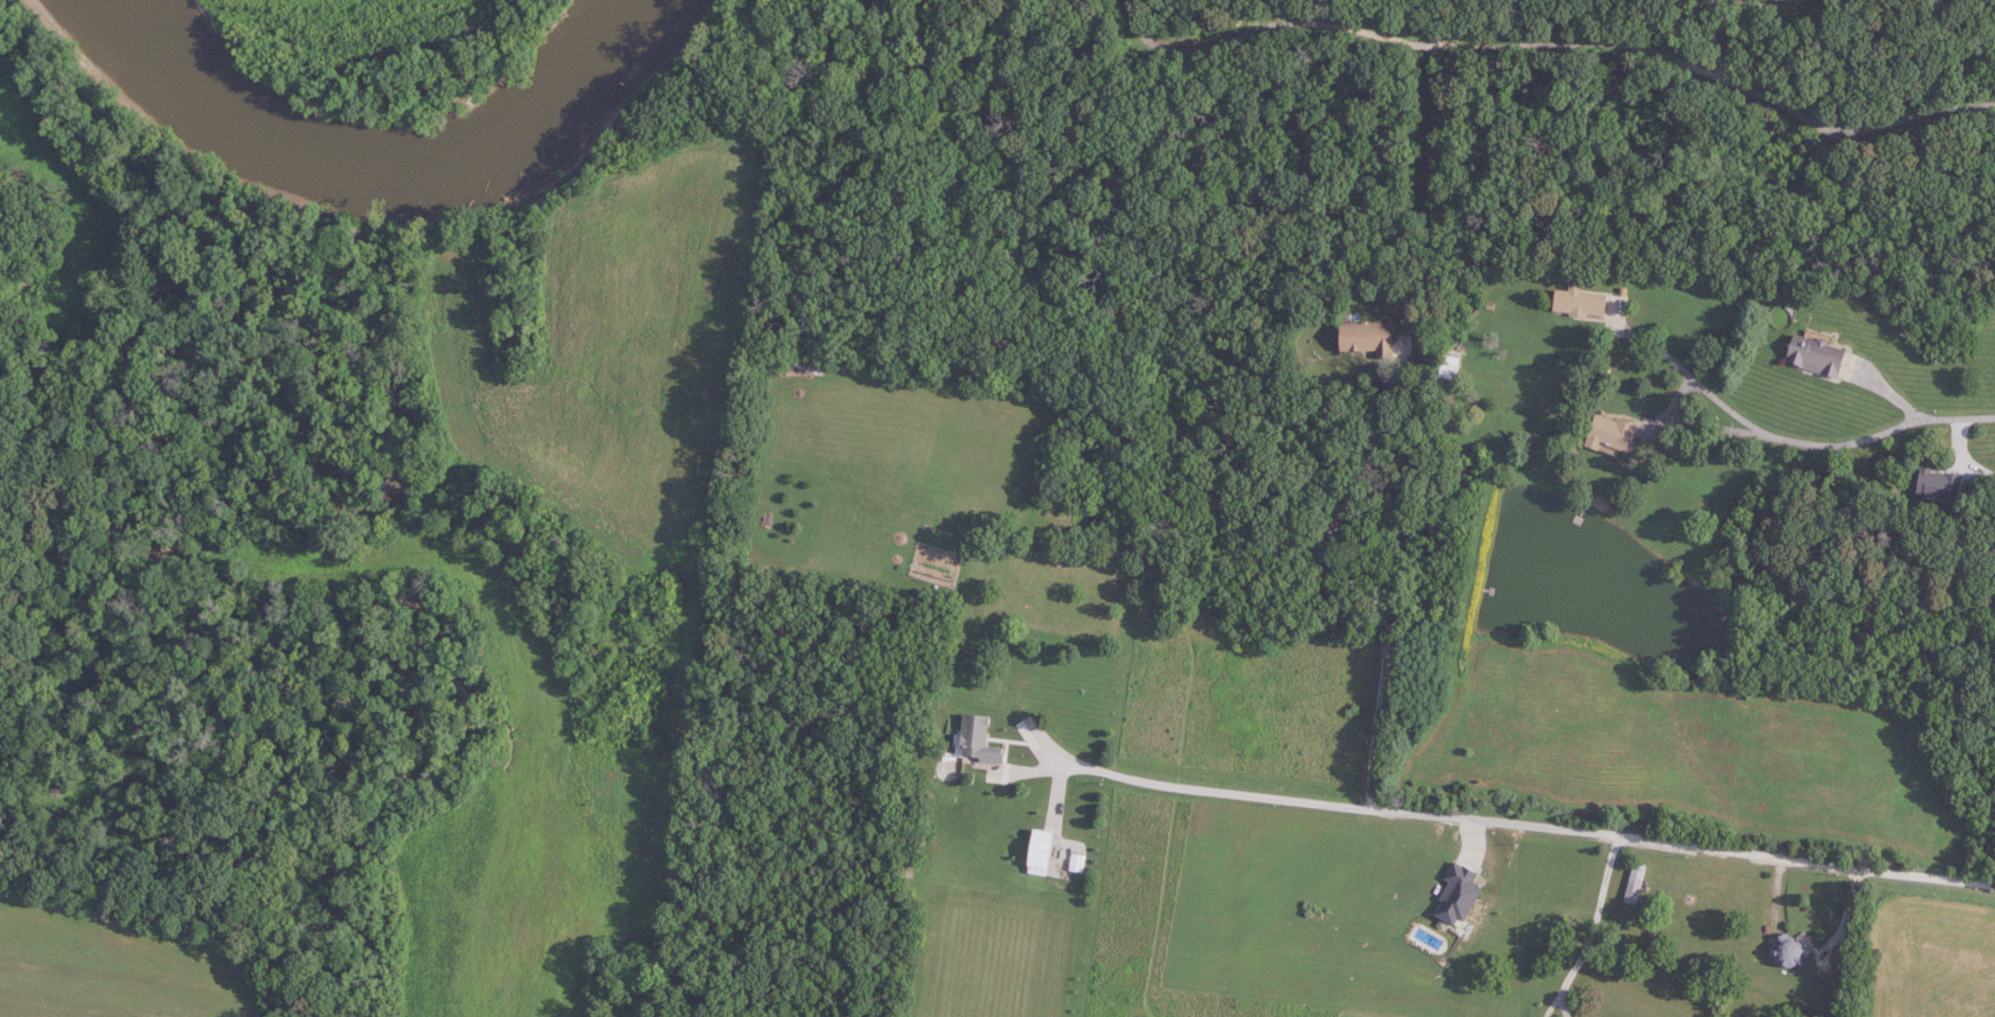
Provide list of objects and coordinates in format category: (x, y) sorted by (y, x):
building: (1792, 0)
road: (1426, 22)
road: (1714, 41)
road: (1570, 44)
river: (372, 167)
building: (1580, 302)
building: (1368, 336)
building: (1817, 355)
building: (1449, 370)
building: (1612, 433)
road: (1800, 440)
building: (1940, 484)
road: (1361, 574)
building: (978, 738)
road: (1528, 825)
building: (1041, 847)
building: (1666, 878)
building: (1635, 882)
road: (1844, 918)
road: (1590, 931)
building: (1791, 953)
road: (1561, 1005)

